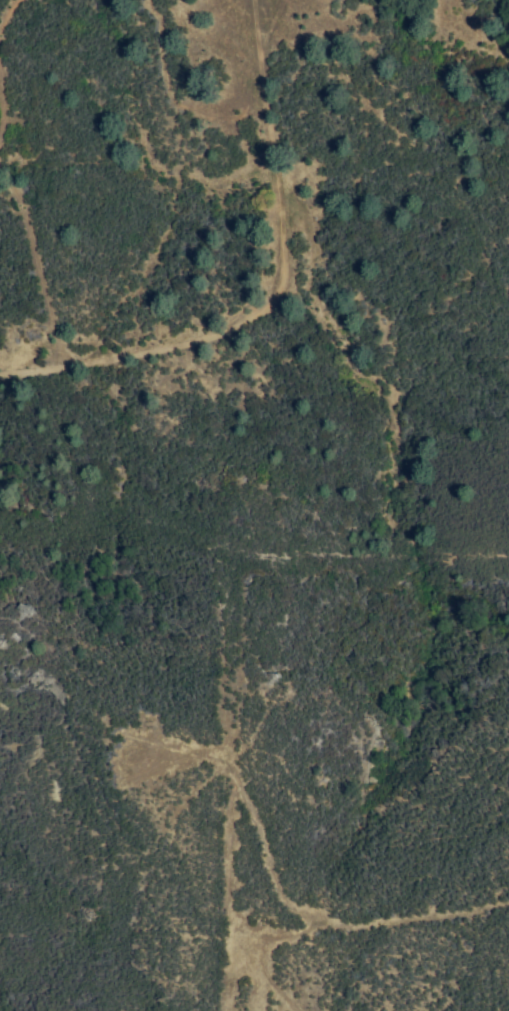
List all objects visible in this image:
road: (286, 299)
road: (224, 891)
road: (272, 897)
road: (260, 976)

